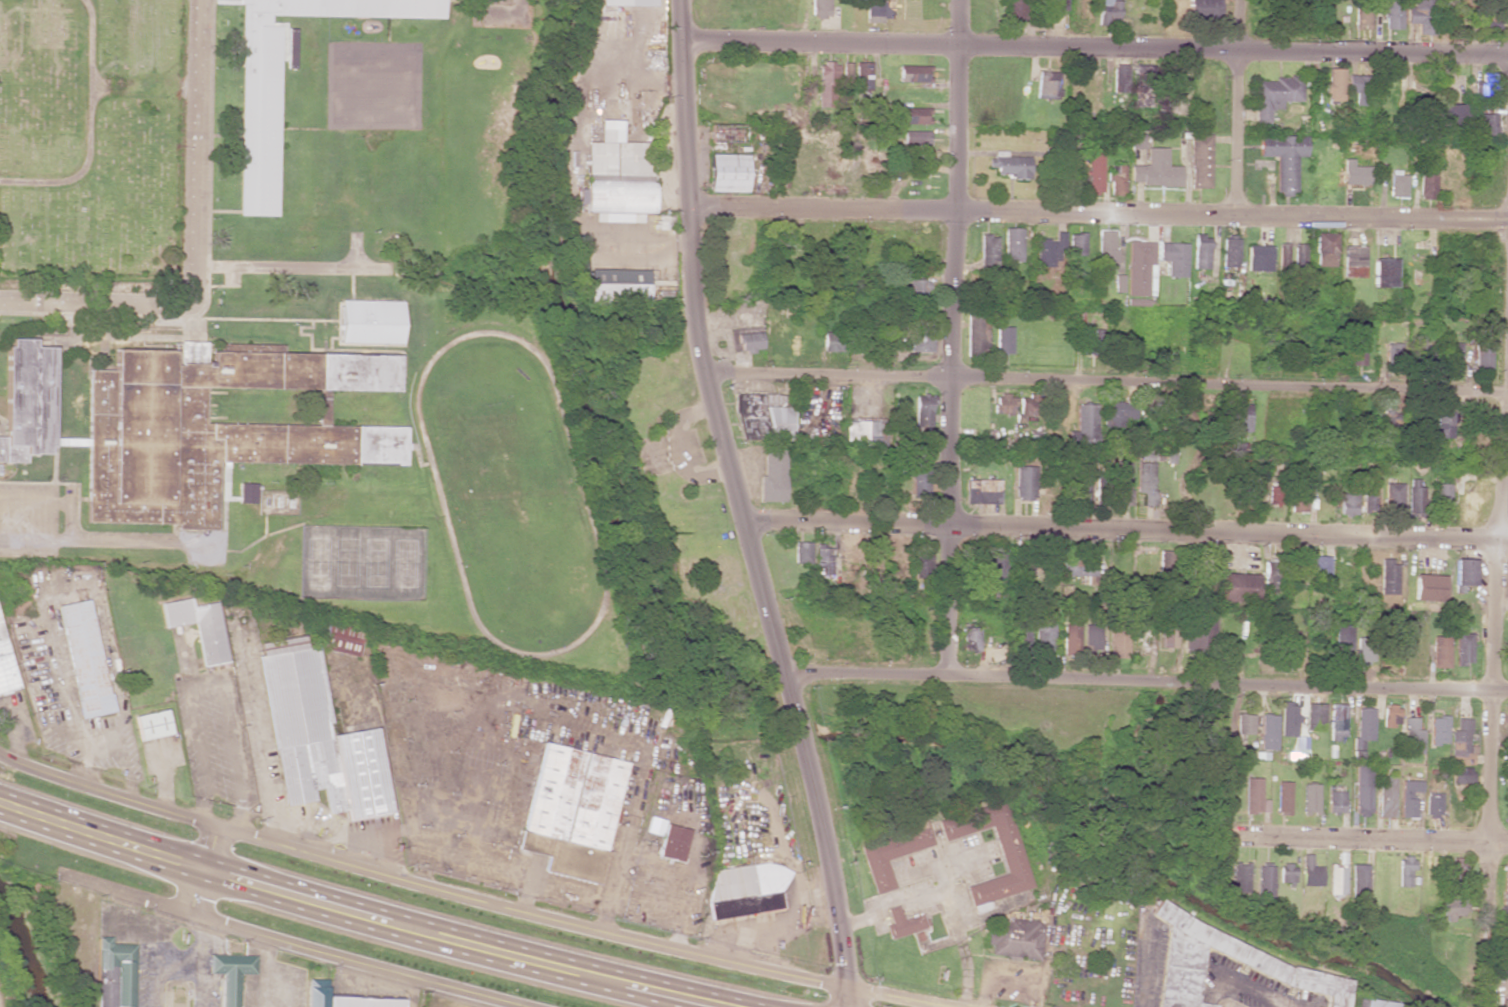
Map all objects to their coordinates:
building: (627, 2)
building: (1054, 4)
building: (1203, 5)
building: (1017, 8)
building: (820, 9)
building: (873, 11)
building: (1108, 12)
building: (1364, 12)
building: (1320, 14)
building: (1393, 14)
building: (1419, 15)
building: (1471, 18)
road: (1093, 47)
building: (912, 73)
building: (846, 74)
building: (862, 75)
building: (1120, 78)
building: (1173, 80)
building: (1333, 84)
building: (826, 85)
building: (1048, 85)
building: (1486, 85)
building: (1356, 88)
building: (1276, 94)
road: (1236, 107)
building: (913, 115)
building: (1450, 115)
building: (258, 121)
building: (1484, 124)
building: (728, 133)
building: (915, 138)
building: (1137, 141)
road: (196, 150)
building: (1284, 159)
building: (1199, 160)
building: (1010, 165)
building: (1155, 170)
building: (1095, 171)
building: (617, 173)
building: (727, 173)
building: (1354, 173)
building: (1116, 180)
building: (1426, 182)
building: (1397, 184)
road: (1098, 215)
building: (1076, 243)
building: (1012, 244)
building: (1106, 249)
building: (1325, 249)
building: (1048, 250)
building: (987, 252)
building: (1201, 252)
building: (1230, 252)
building: (1283, 257)
building: (1299, 257)
building: (1174, 258)
building: (1259, 258)
building: (1353, 261)
building: (1140, 268)
building: (1383, 272)
building: (617, 287)
building: (917, 288)
road: (96, 300)
building: (368, 322)
building: (977, 327)
building: (920, 340)
road: (954, 340)
building: (1003, 340)
building: (1117, 340)
building: (745, 341)
building: (833, 342)
building: (1356, 346)
building: (1392, 352)
building: (1451, 357)
building: (1481, 357)
river: (600, 379)
road: (1107, 384)
building: (26, 400)
building: (1004, 404)
building: (1027, 405)
building: (923, 410)
building: (1118, 413)
building: (763, 417)
building: (1241, 417)
building: (1387, 419)
building: (1443, 424)
building: (1083, 426)
building: (213, 429)
building: (866, 434)
building: (644, 444)
building: (772, 475)
building: (1146, 478)
building: (920, 480)
building: (1024, 482)
building: (1123, 482)
building: (1099, 489)
building: (982, 491)
building: (246, 492)
building: (1393, 496)
building: (1414, 497)
building: (1297, 499)
building: (1367, 499)
building: (1441, 500)
building: (1468, 500)
building: (1346, 504)
road: (738, 507)
road: (1125, 531)
building: (801, 552)
building: (822, 560)
building: (1294, 564)
building: (921, 566)
building: (997, 566)
building: (1320, 566)
building: (1078, 567)
building: (1270, 574)
building: (1463, 574)
building: (1387, 577)
road: (1494, 584)
building: (1237, 587)
building: (1427, 587)
building: (197, 627)
building: (1167, 636)
building: (1199, 636)
building: (1044, 637)
building: (341, 638)
building: (971, 638)
building: (1070, 639)
building: (1095, 639)
building: (1119, 643)
building: (1288, 646)
building: (1462, 648)
building: (1439, 651)
building: (83, 658)
building: (5, 667)
road: (1145, 685)
building: (1314, 716)
building: (1390, 716)
building: (1288, 719)
building: (151, 724)
building: (1243, 724)
river: (796, 725)
building: (1362, 730)
building: (1437, 730)
building: (1267, 732)
building: (1411, 736)
building: (316, 737)
building: (1460, 743)
building: (1459, 775)
building: (1362, 790)
road: (105, 793)
building: (1254, 796)
building: (573, 797)
building: (1385, 797)
building: (1283, 798)
building: (1310, 798)
building: (1408, 798)
building: (1335, 801)
building: (1507, 804)
building: (1432, 805)
road: (101, 837)
road: (1371, 839)
building: (673, 842)
building: (893, 851)
river: (1120, 851)
building: (1010, 857)
building: (1454, 870)
building: (1405, 871)
building: (1309, 872)
building: (1286, 873)
building: (1240, 877)
building: (1335, 879)
building: (1505, 880)
building: (1358, 881)
building: (1263, 882)
building: (745, 890)
road: (296, 896)
building: (1452, 908)
road: (534, 915)
building: (903, 923)
building: (1014, 937)
road: (291, 944)
building: (1505, 950)
river: (23, 954)
road: (506, 954)
building: (1255, 959)
building: (114, 974)
building: (230, 975)
road: (676, 995)
building: (315, 996)
building: (363, 1002)
building: (1377, 1003)

